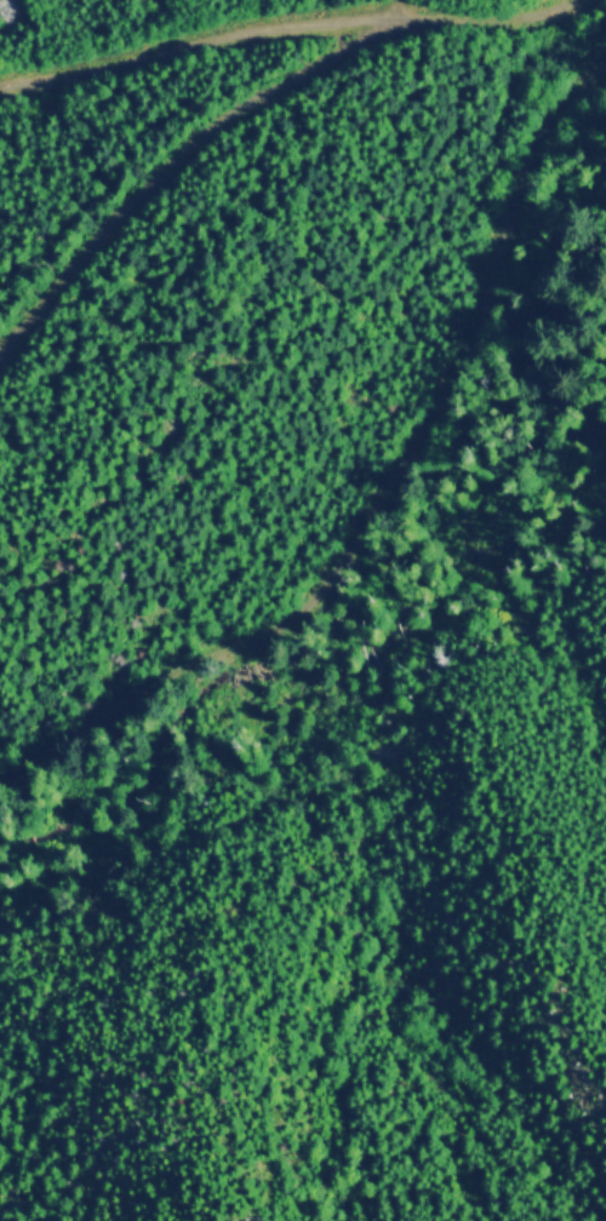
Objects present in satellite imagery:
road: (287, 28)
road: (178, 154)
road: (384, 489)

